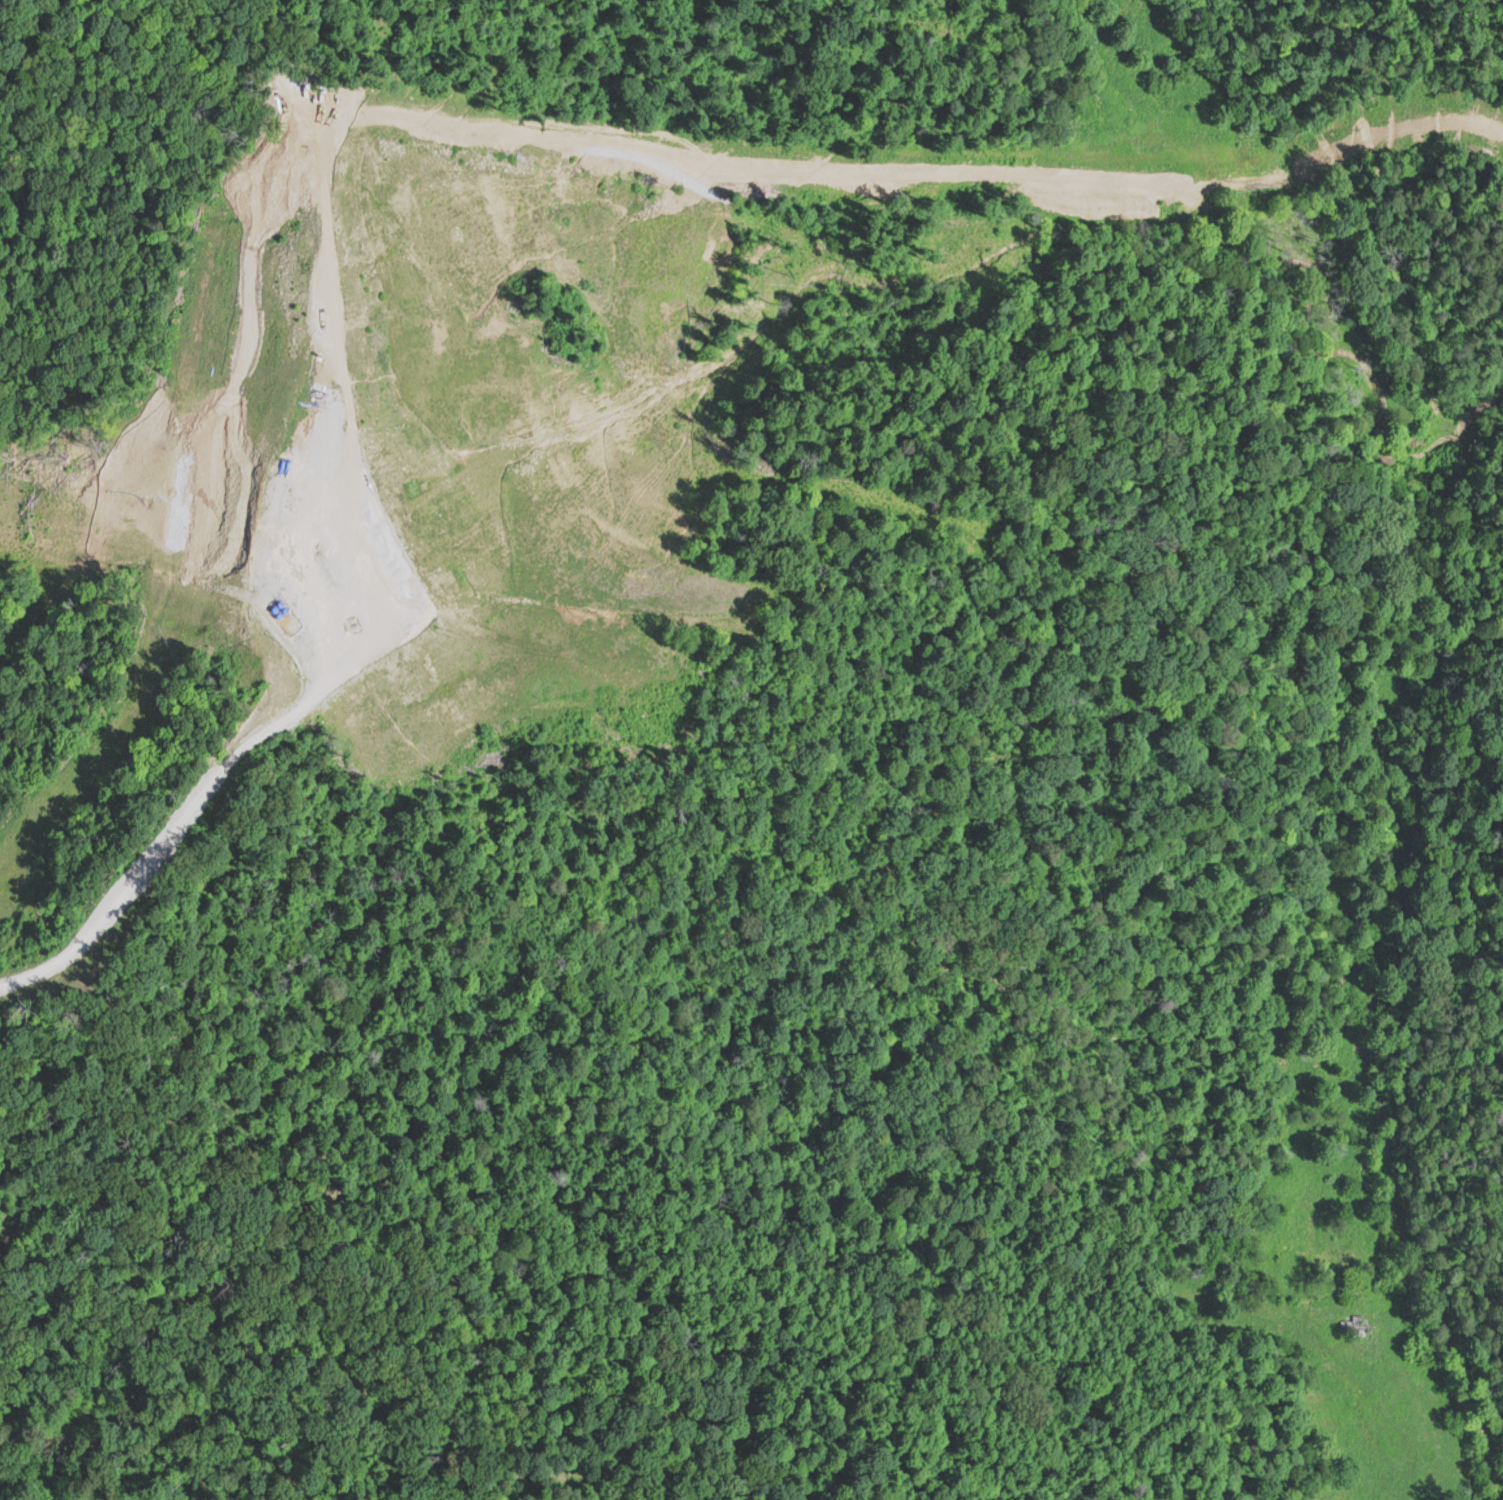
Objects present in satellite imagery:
building: (1352, 1321)

